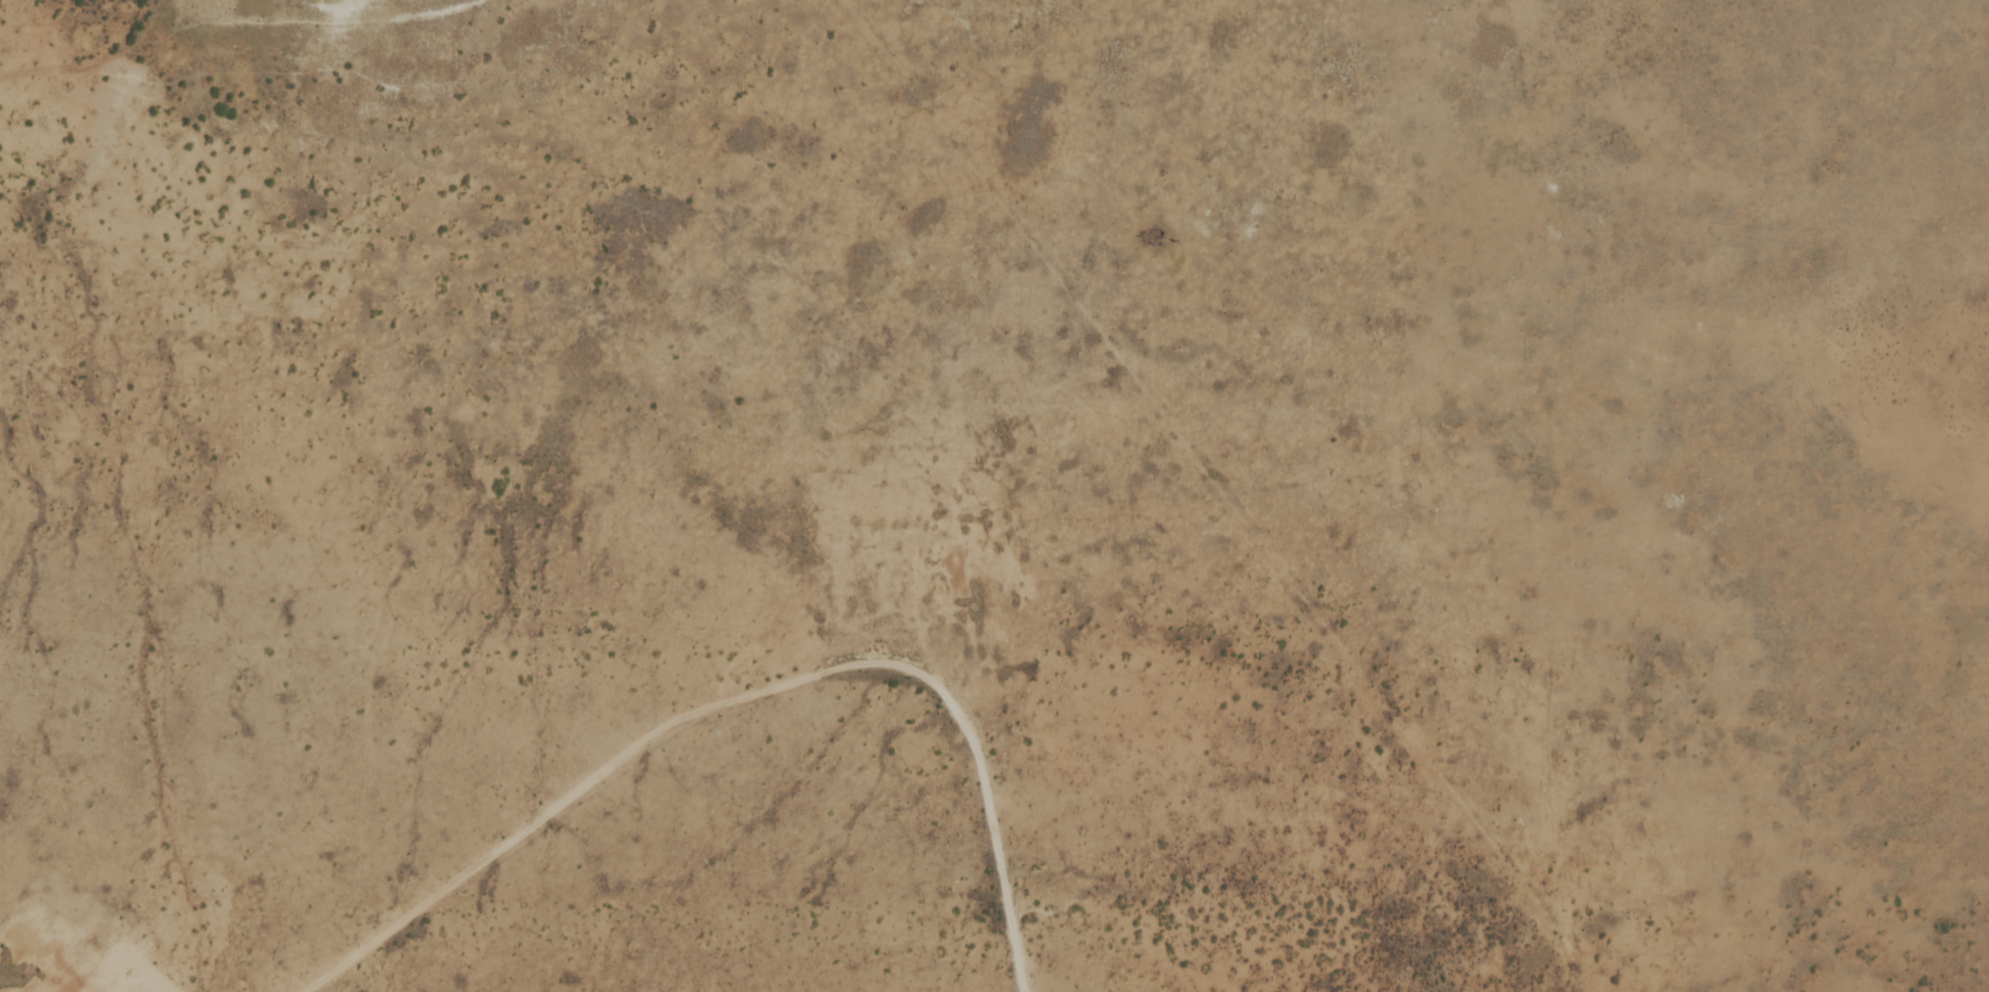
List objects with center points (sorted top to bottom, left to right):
road: (749, 697)

